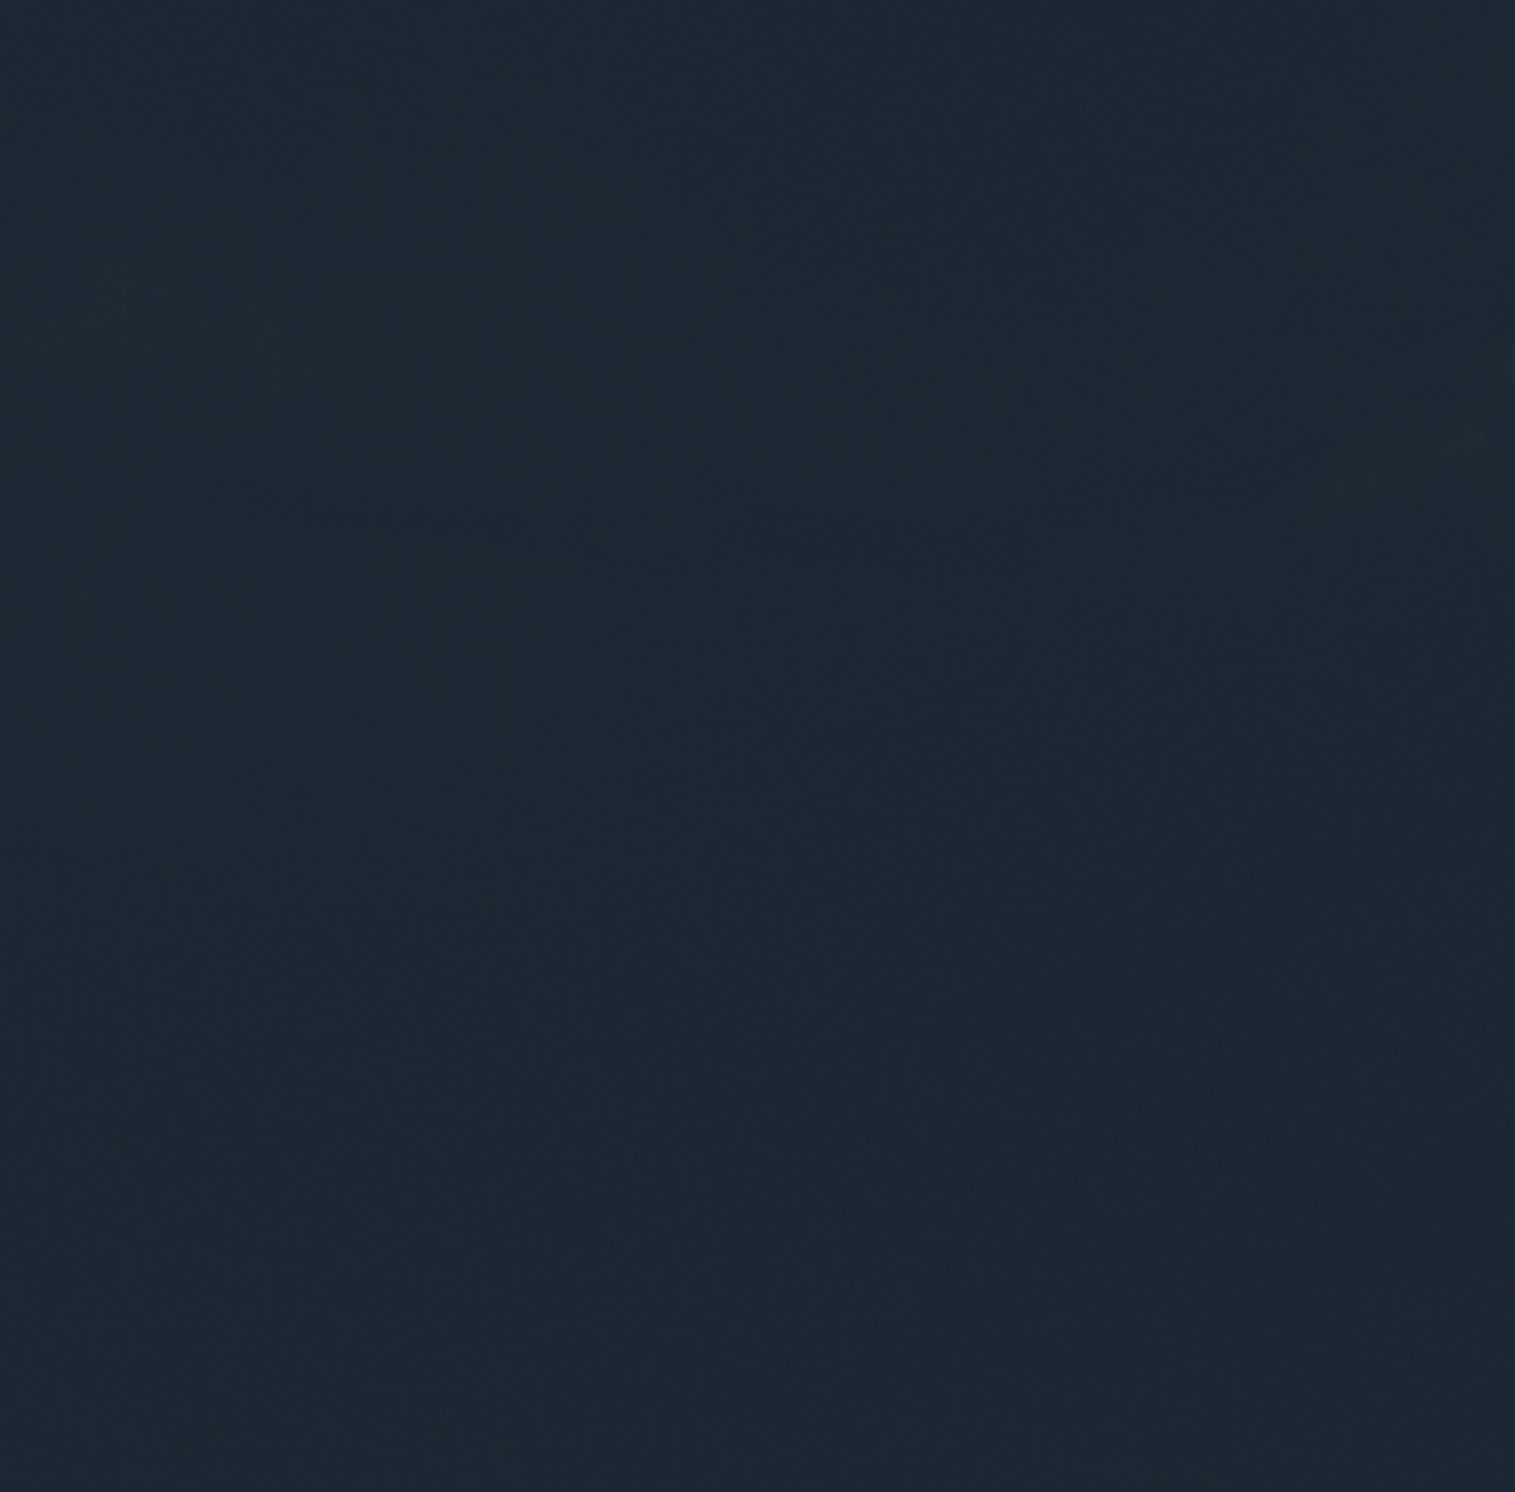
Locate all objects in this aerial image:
river: (756, 1389)

